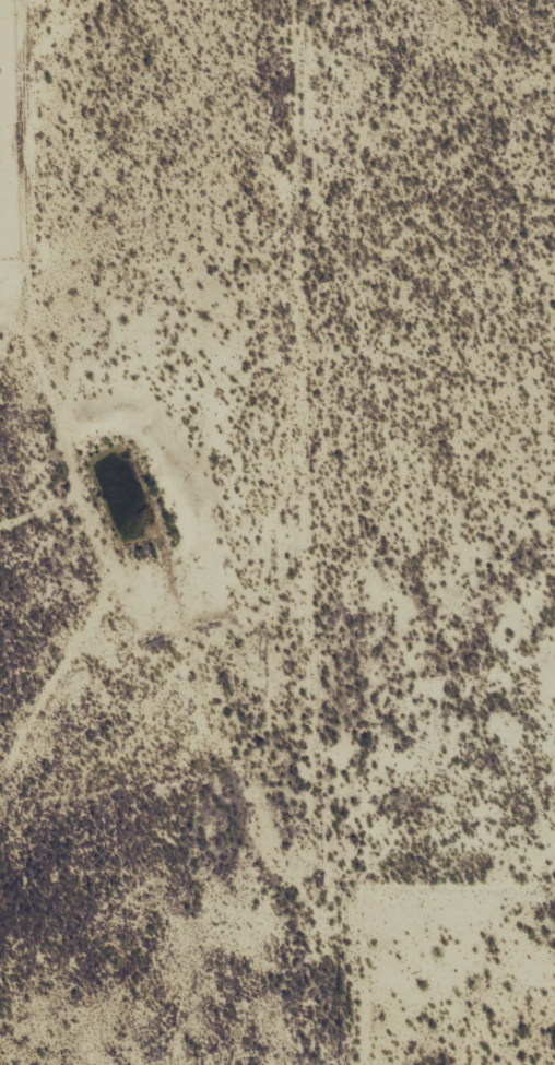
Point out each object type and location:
solar farm: (11, 135)
road: (52, 729)

